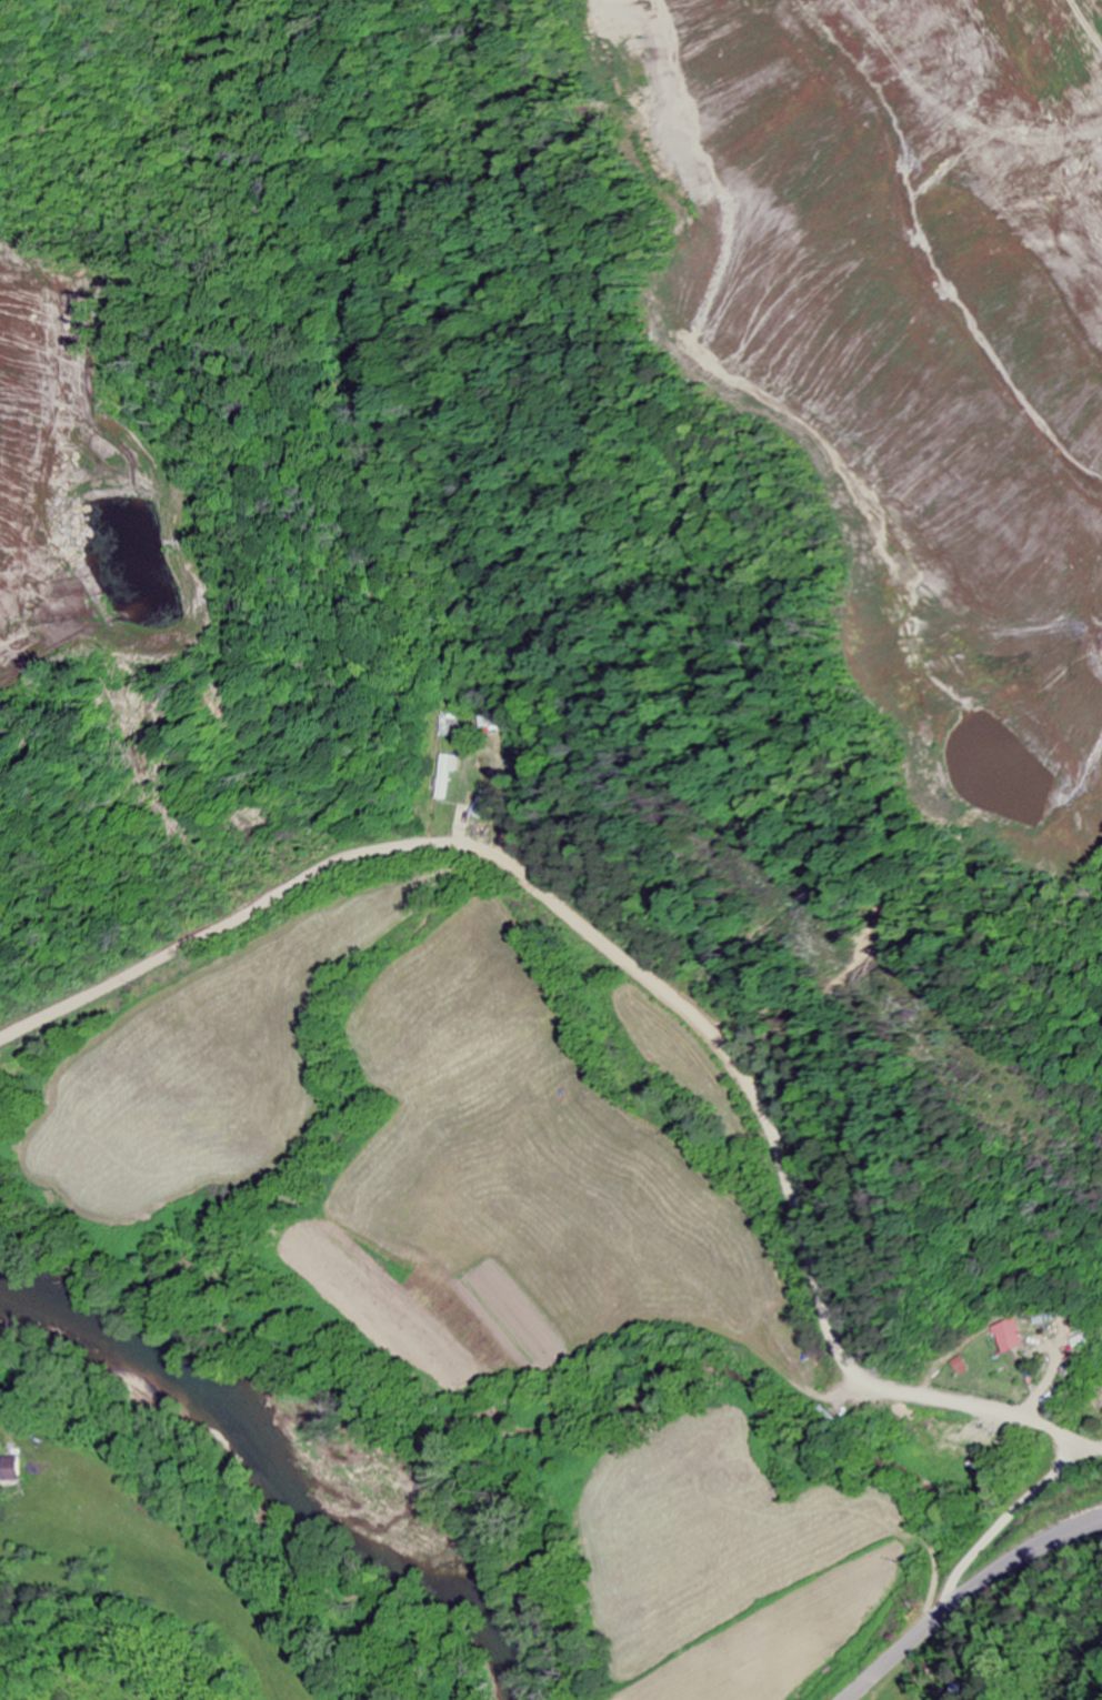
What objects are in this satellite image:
building: (444, 774)
road: (612, 954)
building: (1008, 1337)
building: (1080, 1344)
building: (958, 1367)
building: (9, 1470)
river: (283, 1473)
road: (1033, 1490)
road: (955, 1576)

